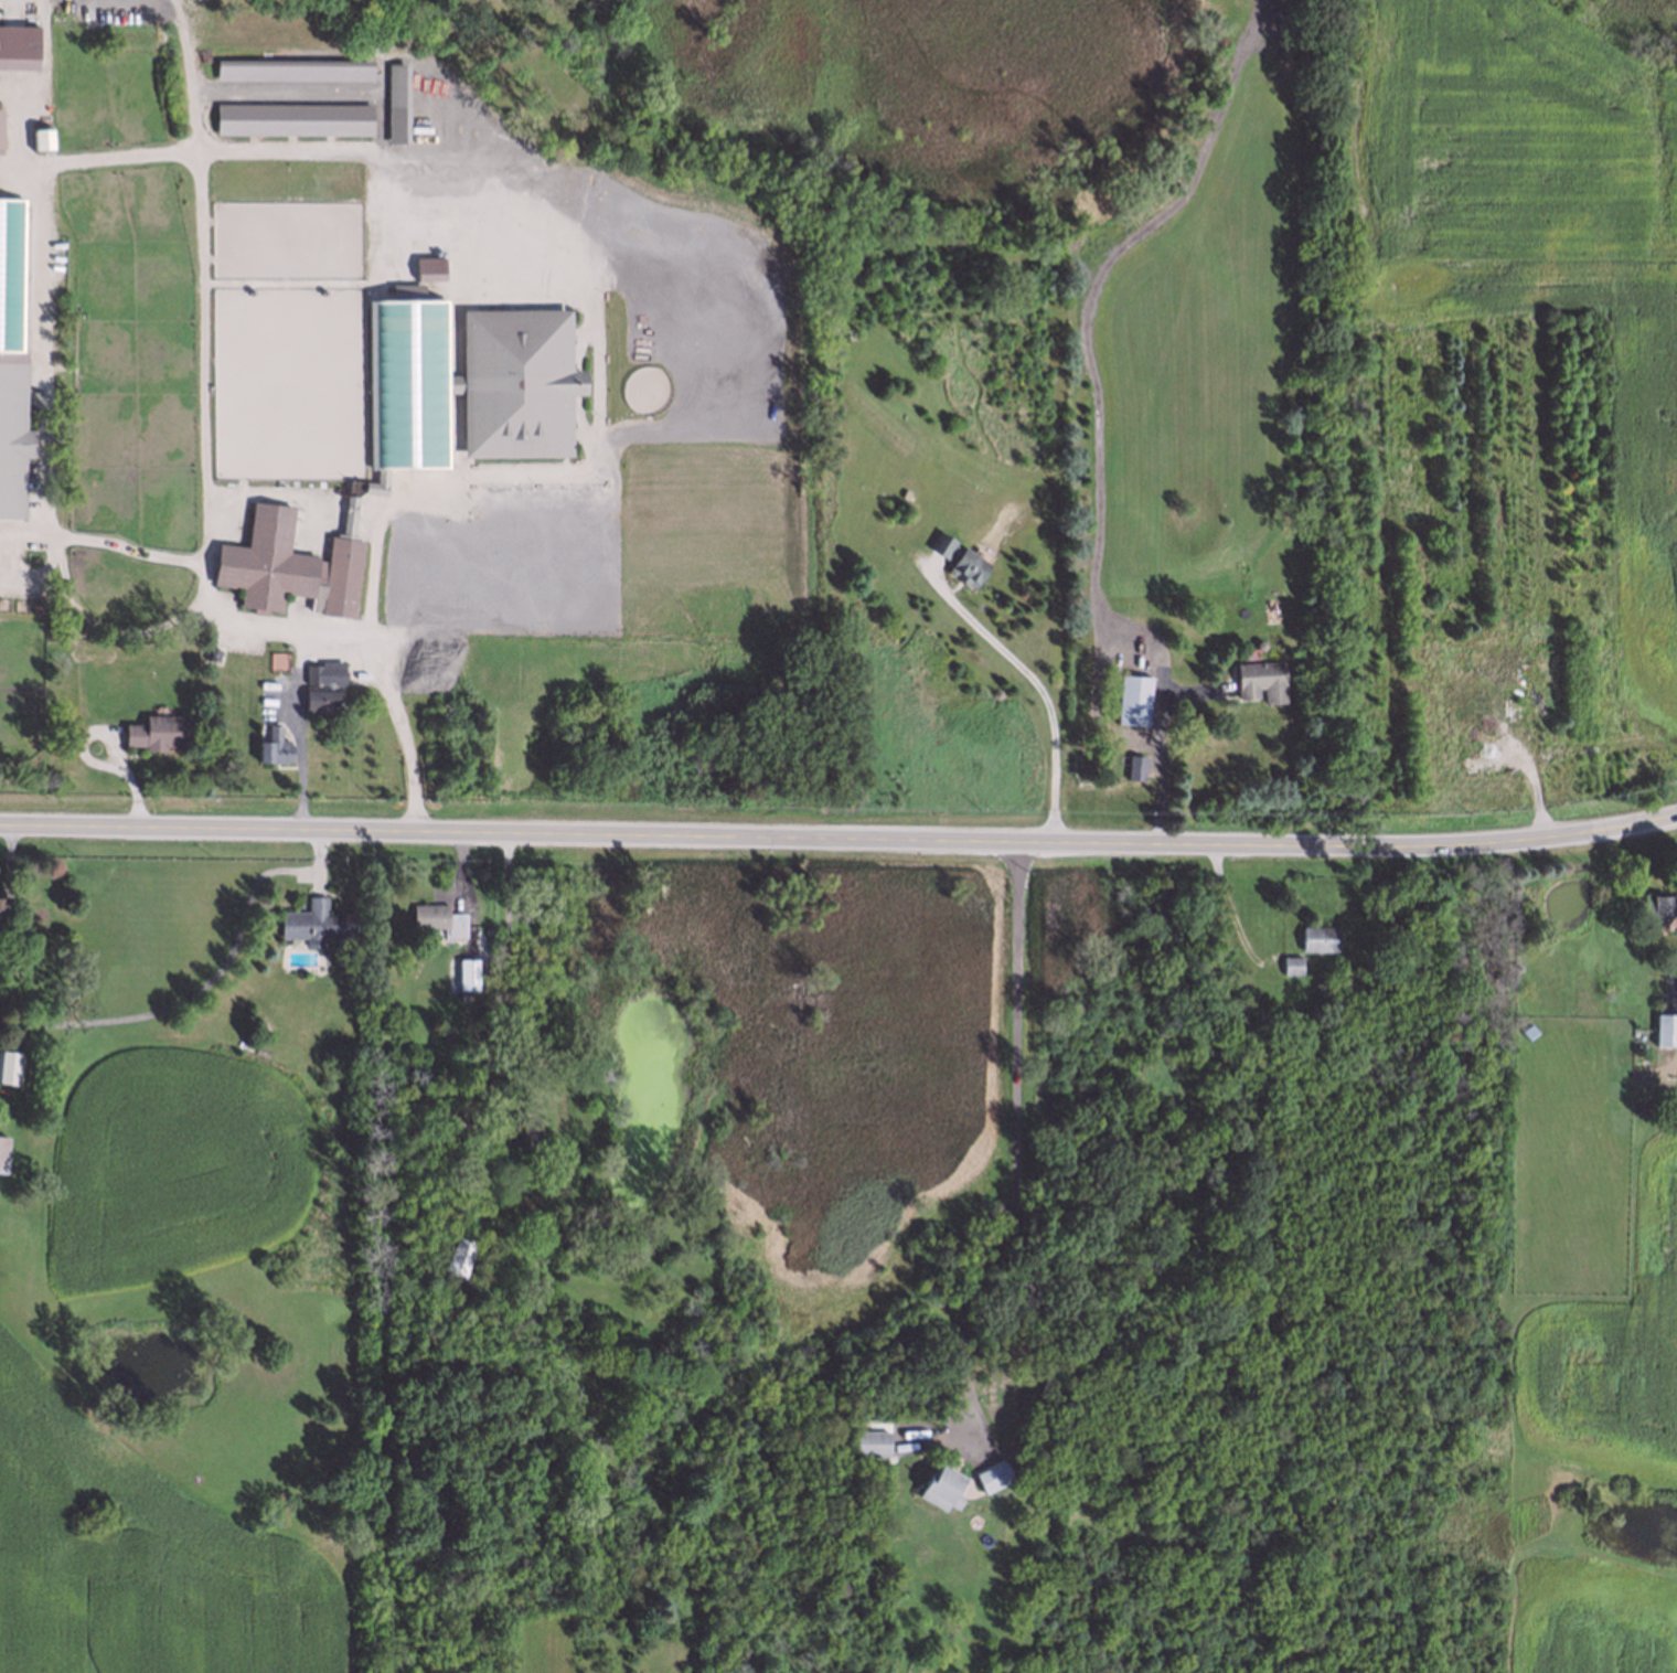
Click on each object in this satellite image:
building: (17, 49)
building: (293, 71)
road: (32, 82)
road: (321, 90)
building: (395, 106)
building: (295, 122)
building: (1, 130)
building: (40, 141)
road: (553, 248)
building: (429, 263)
road: (204, 283)
building: (408, 291)
building: (847, 330)
road: (42, 352)
building: (13, 359)
building: (409, 383)
building: (516, 383)
building: (378, 483)
building: (350, 509)
building: (767, 533)
building: (957, 558)
building: (263, 560)
road: (197, 566)
road: (113, 622)
building: (1257, 641)
building: (210, 650)
building: (279, 662)
building: (323, 669)
building: (1258, 680)
road: (1036, 684)
building: (320, 697)
building: (1130, 699)
building: (154, 731)
road: (299, 732)
road: (406, 734)
building: (274, 743)
building: (1132, 764)
road: (1163, 767)
road: (1567, 835)
road: (727, 838)
road: (7, 895)
building: (1664, 908)
building: (431, 917)
building: (319, 921)
building: (1320, 939)
road: (506, 963)
building: (1293, 966)
building: (469, 974)
building: (10, 1024)
building: (1666, 1031)
road: (1013, 1133)
building: (4, 1149)
building: (461, 1257)
building: (872, 1443)
building: (994, 1477)
building: (943, 1488)

